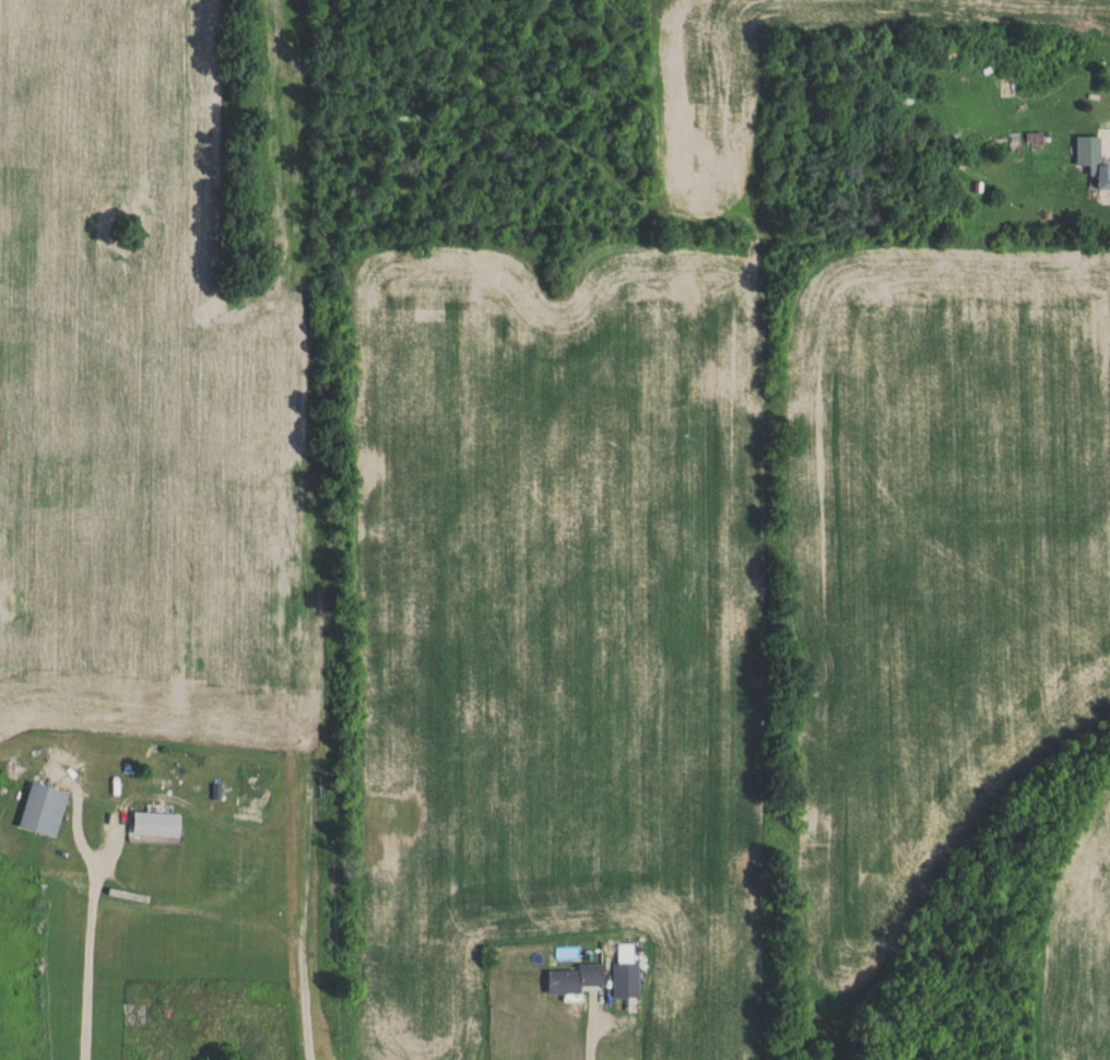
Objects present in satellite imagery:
building: (1094, 162)
building: (42, 810)
building: (156, 825)
road: (87, 961)
building: (575, 981)
building: (625, 981)
road: (584, 1039)

